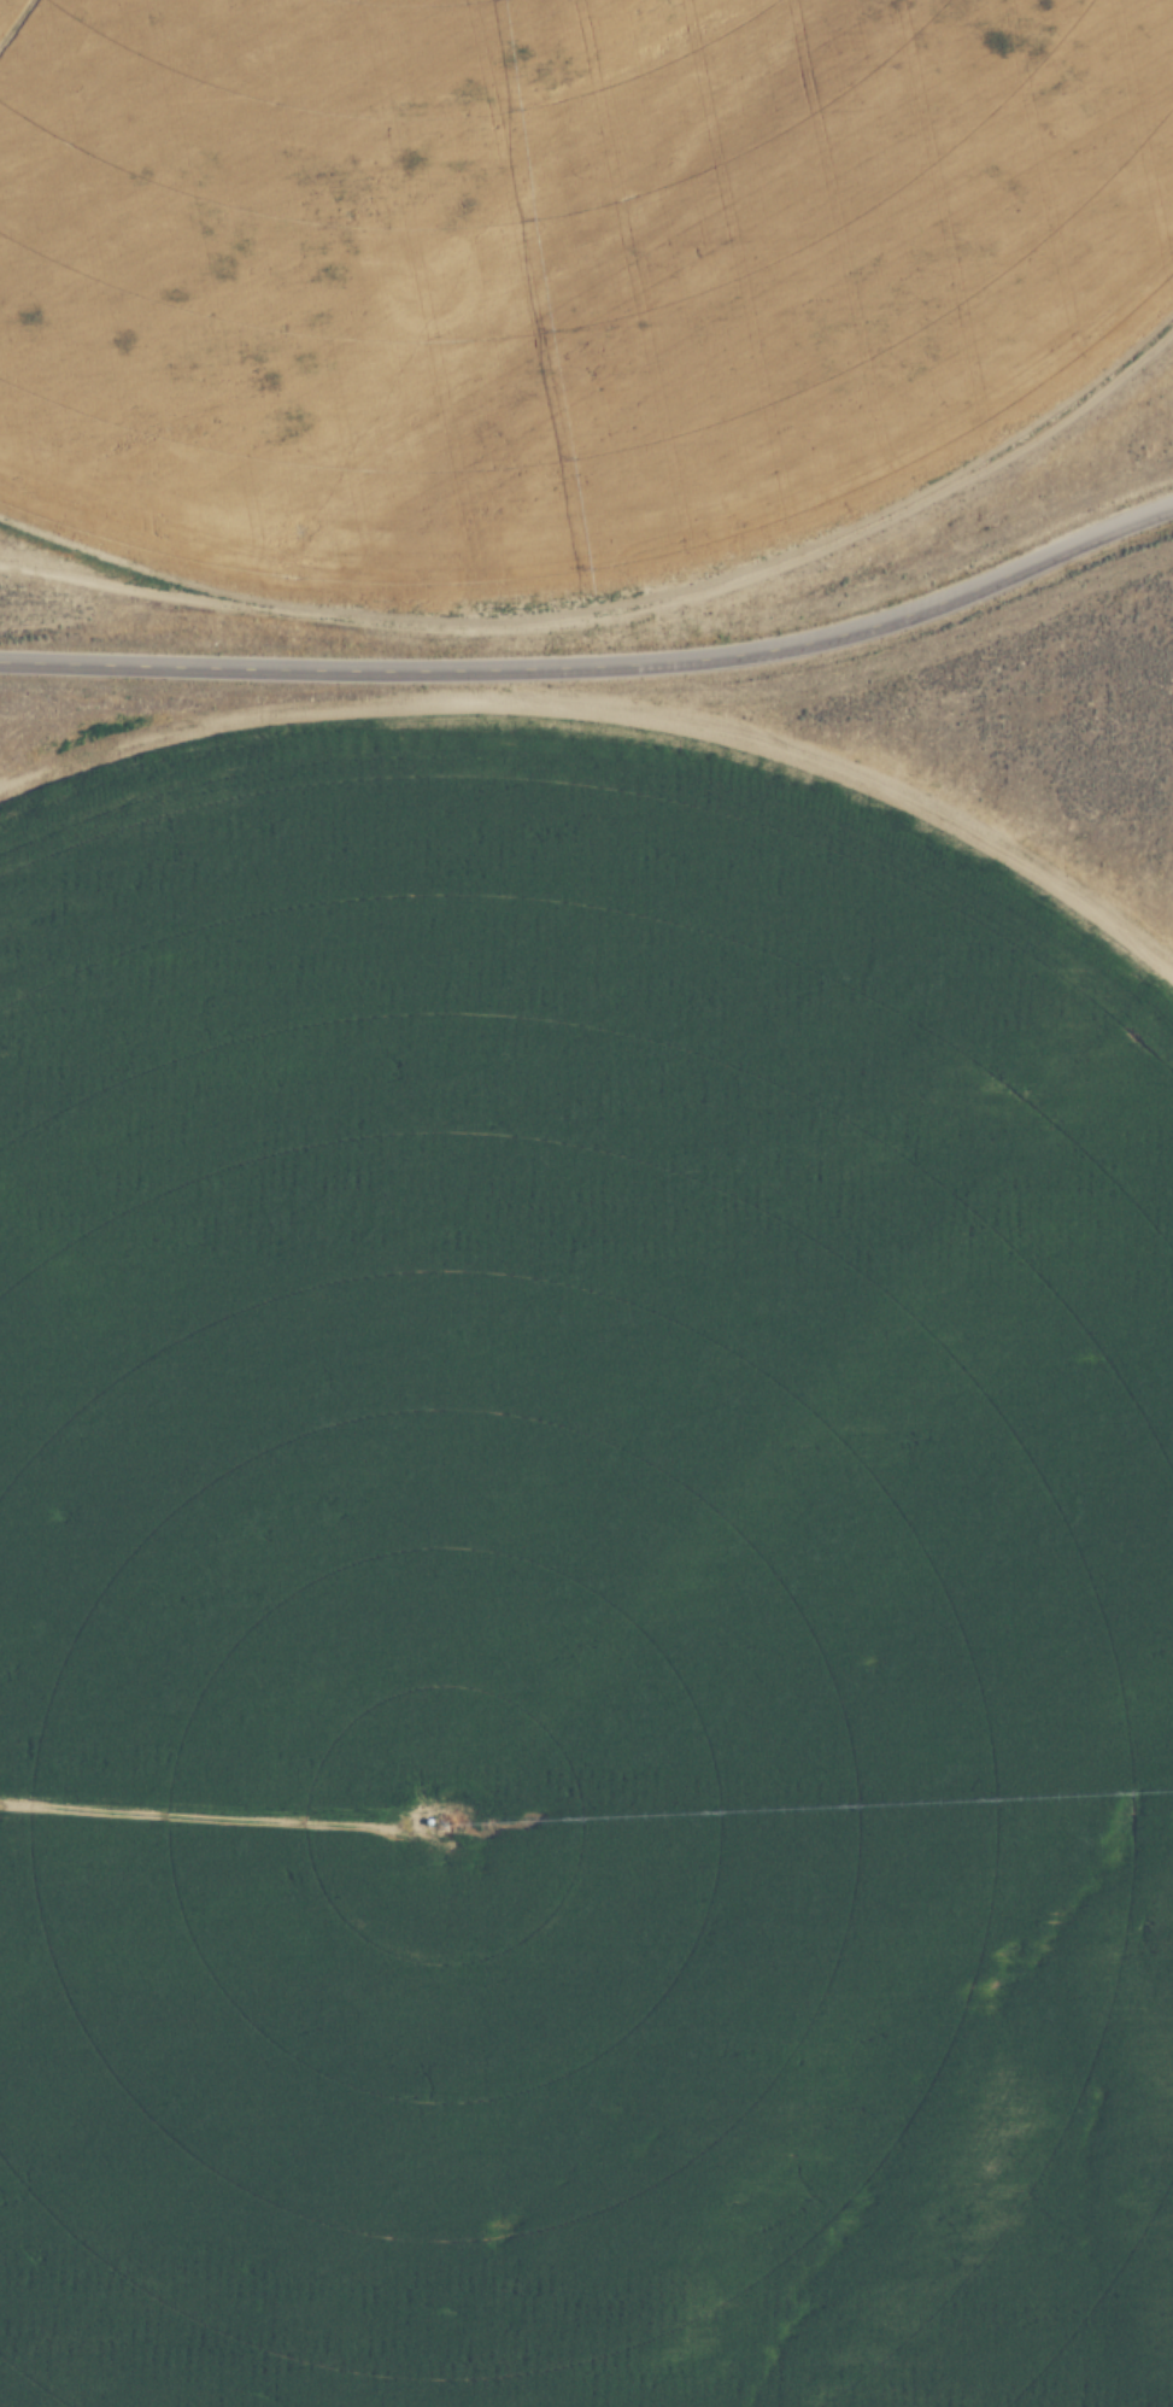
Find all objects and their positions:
crop: (564, 305)
crop: (580, 1603)

